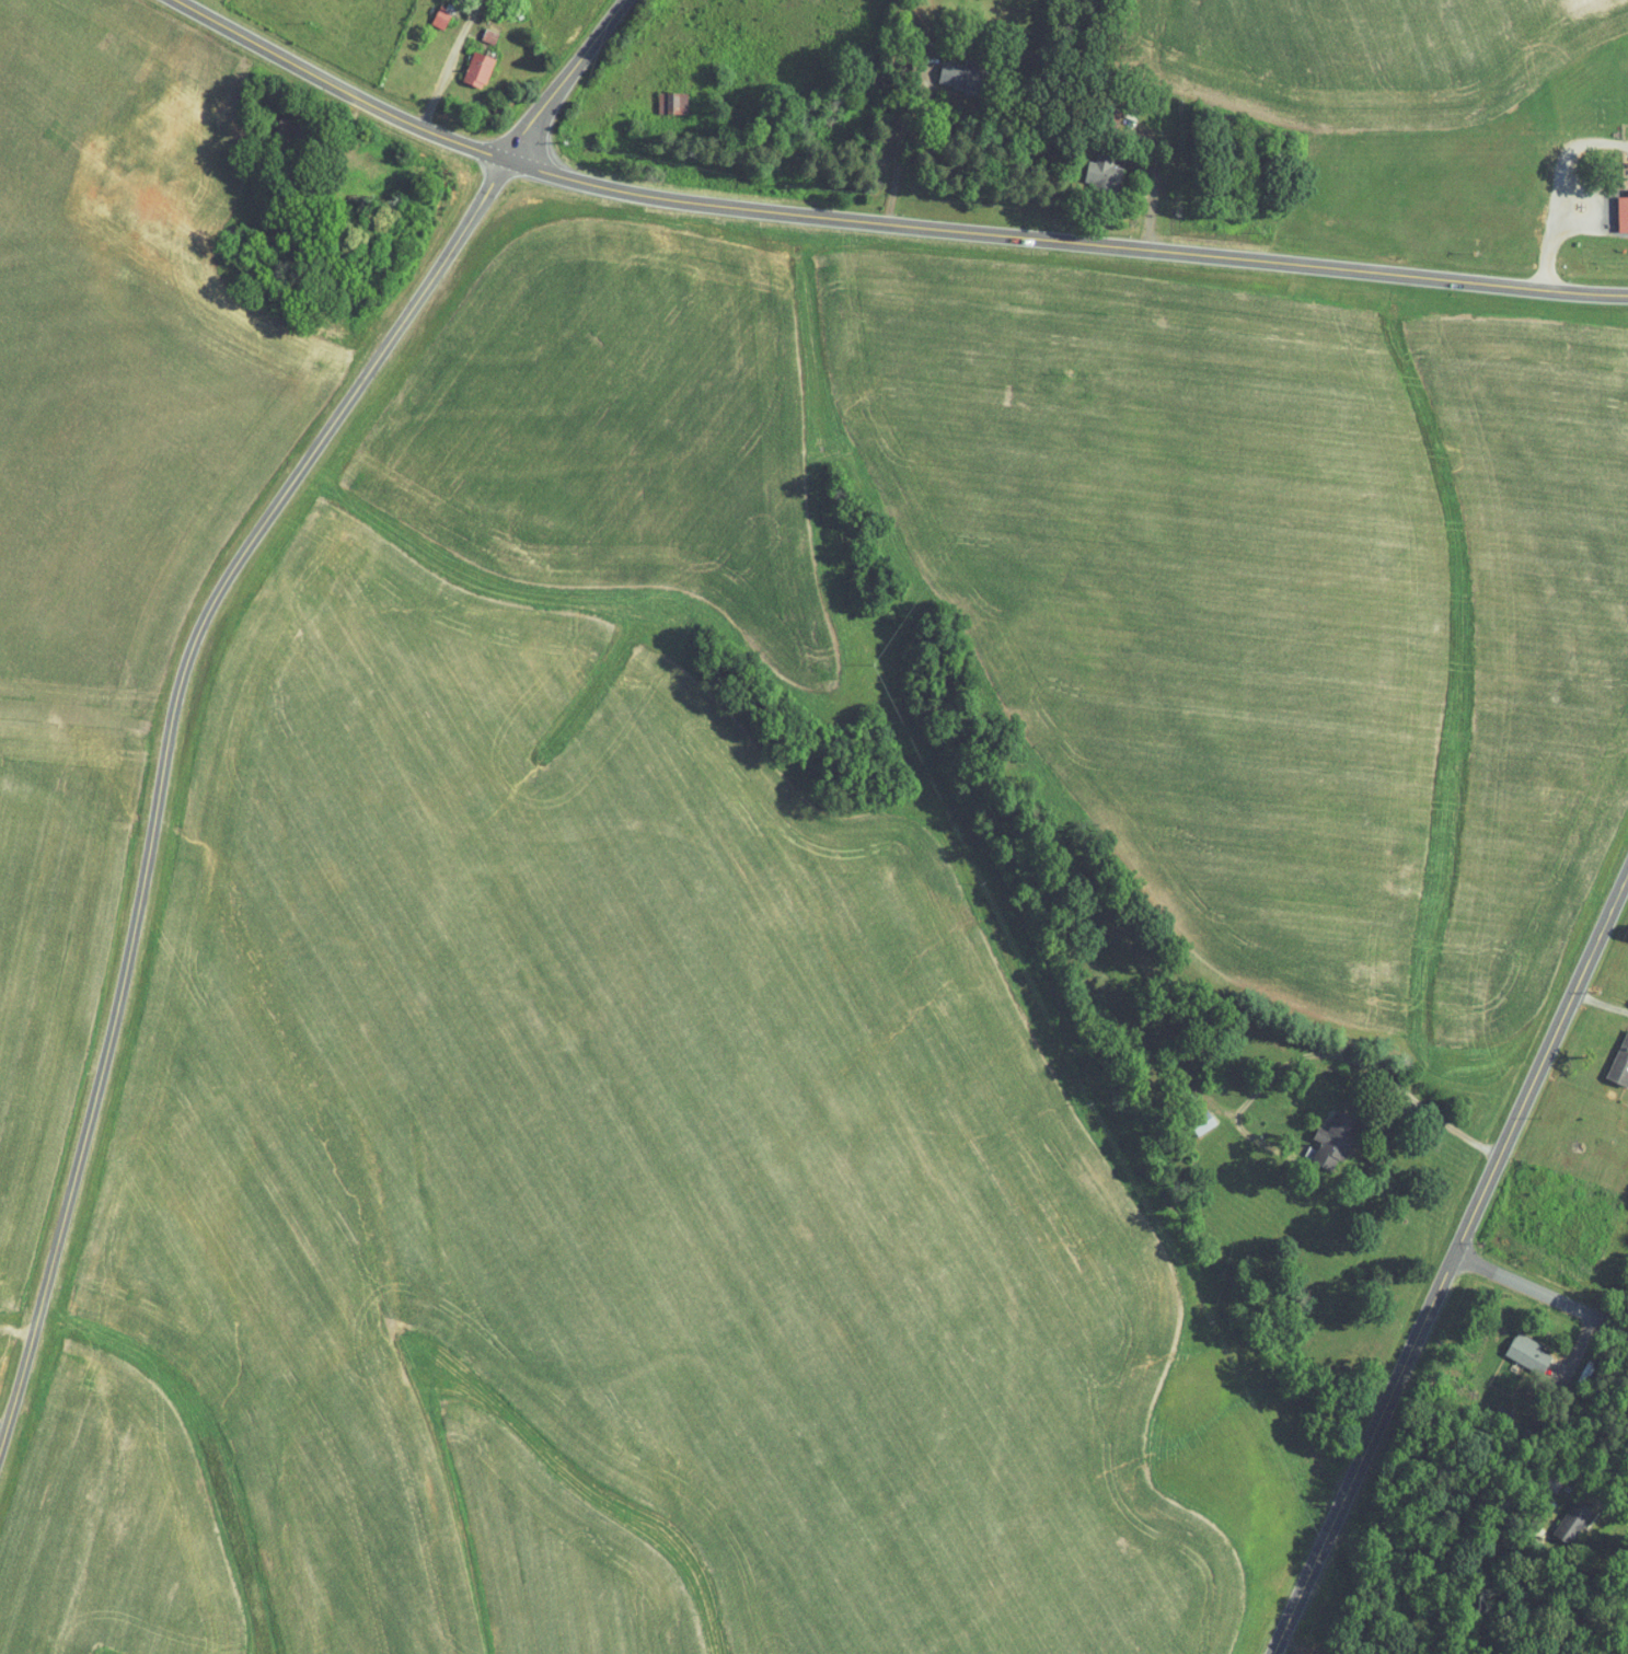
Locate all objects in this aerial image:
building: (443, 15)
road: (461, 30)
building: (490, 36)
building: (481, 68)
building: (968, 78)
road: (565, 80)
road: (432, 93)
building: (674, 102)
road: (328, 132)
road: (360, 135)
road: (1569, 149)
road: (911, 153)
road: (1105, 211)
building: (1621, 212)
road: (449, 216)
road: (1587, 218)
road: (881, 222)
road: (163, 760)
road: (1627, 876)
road: (1600, 1003)
building: (1620, 1065)
building: (1186, 1092)
road: (1436, 1118)
building: (1201, 1122)
building: (1332, 1140)
road: (1450, 1262)
road: (1542, 1292)
road: (1581, 1342)
building: (1528, 1351)
building: (1503, 1413)
building: (1551, 1480)
road: (1610, 1511)
building: (1572, 1519)

